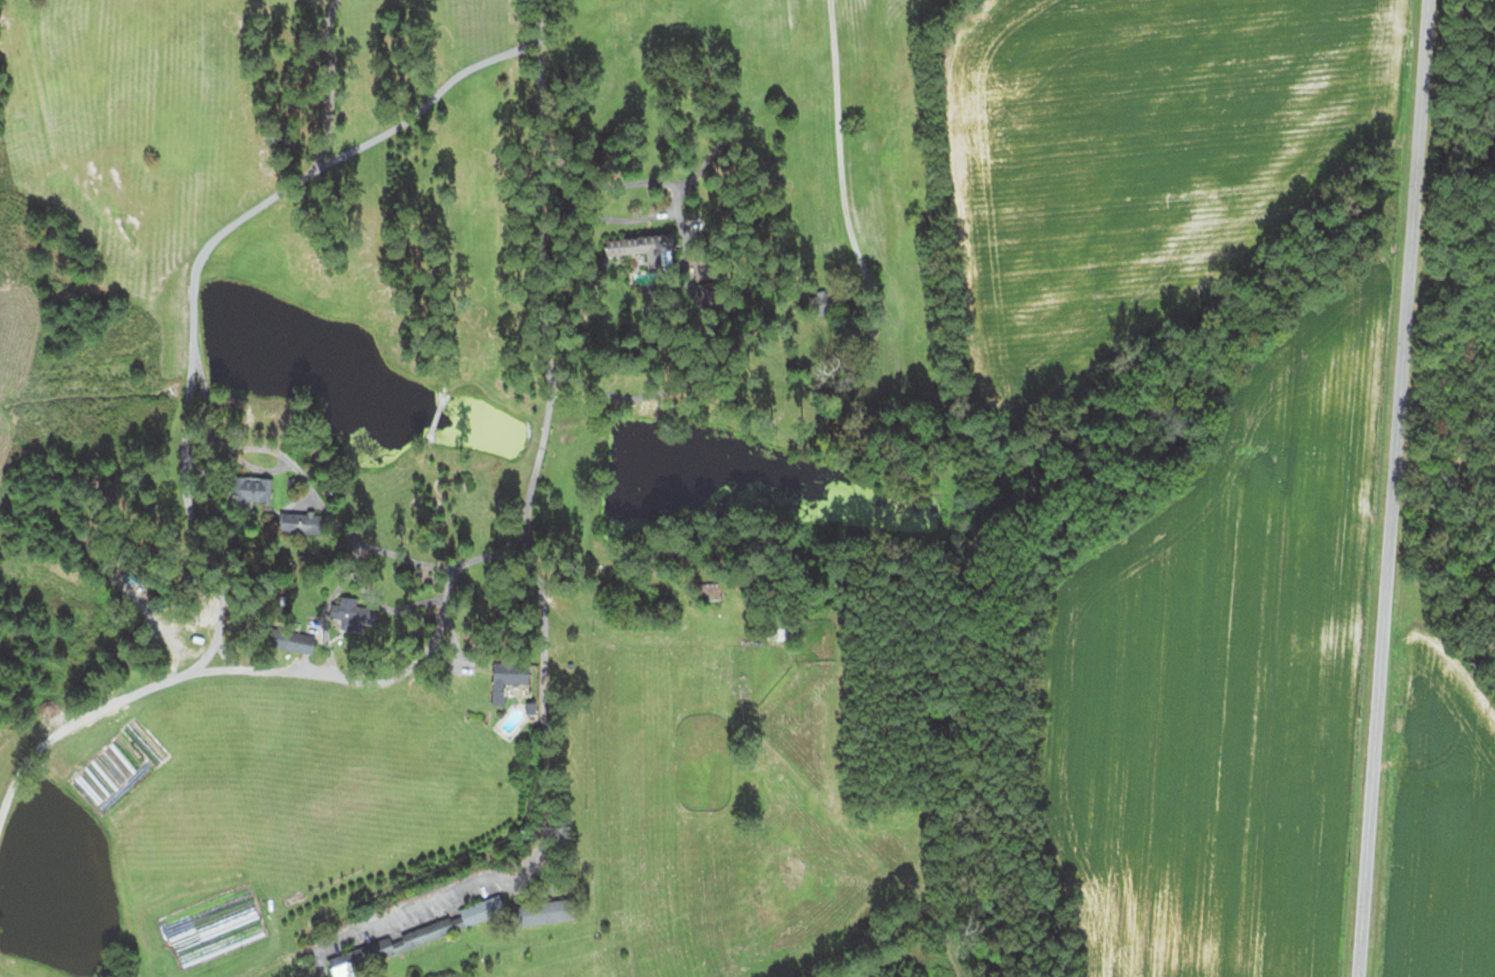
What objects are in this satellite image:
road: (845, 103)
building: (647, 247)
road: (167, 282)
road: (1399, 488)
building: (254, 490)
building: (302, 521)
road: (535, 556)
road: (353, 565)
building: (346, 609)
building: (784, 626)
building: (509, 676)
road: (373, 734)
road: (51, 756)
building: (545, 911)
building: (420, 934)

